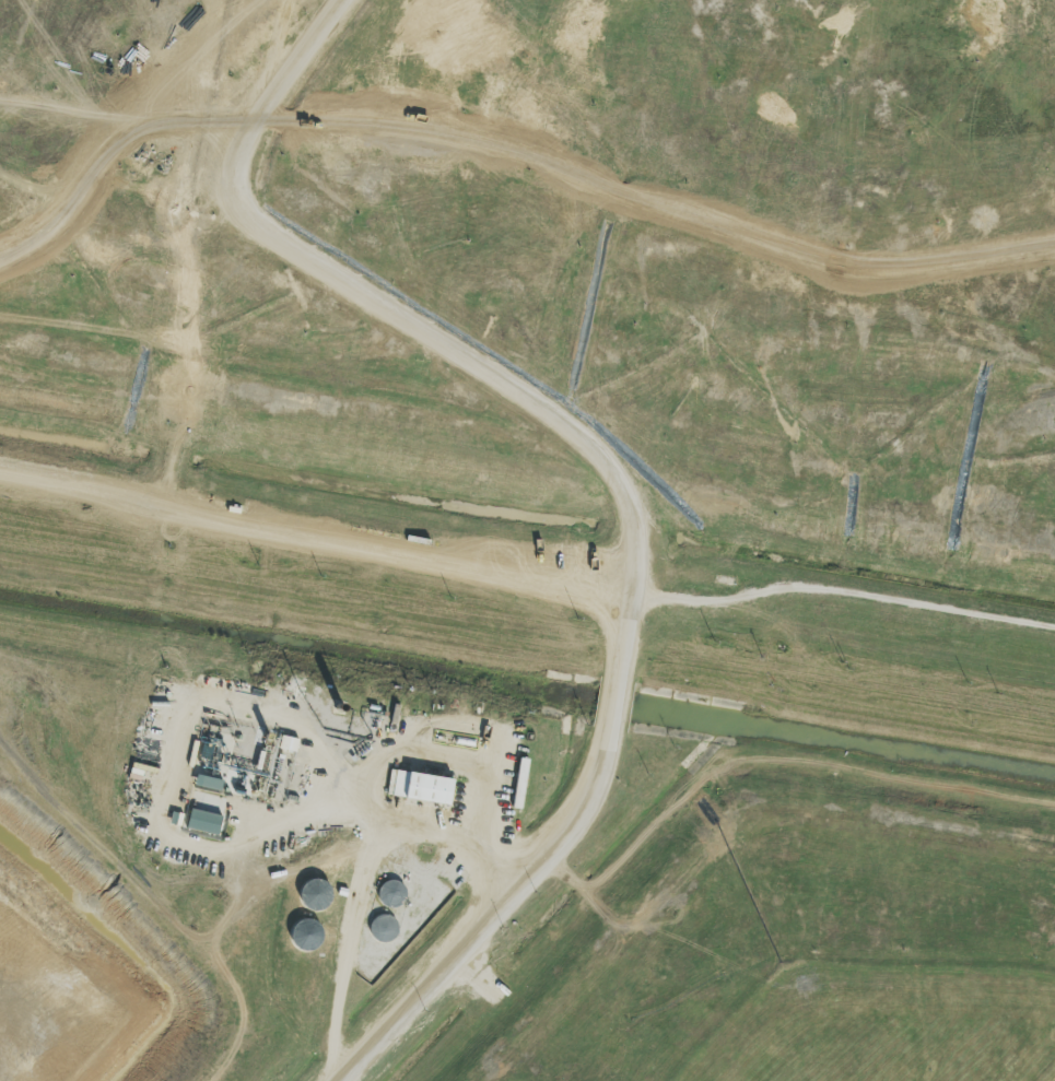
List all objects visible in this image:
landfill: (555, 268)
road: (621, 483)
road: (318, 533)
building: (289, 743)
building: (209, 784)
building: (420, 787)
building: (204, 822)
road: (364, 877)
landfill: (485, 880)
building: (315, 894)
building: (391, 894)
building: (384, 929)
building: (306, 936)
road: (1054, 1080)

